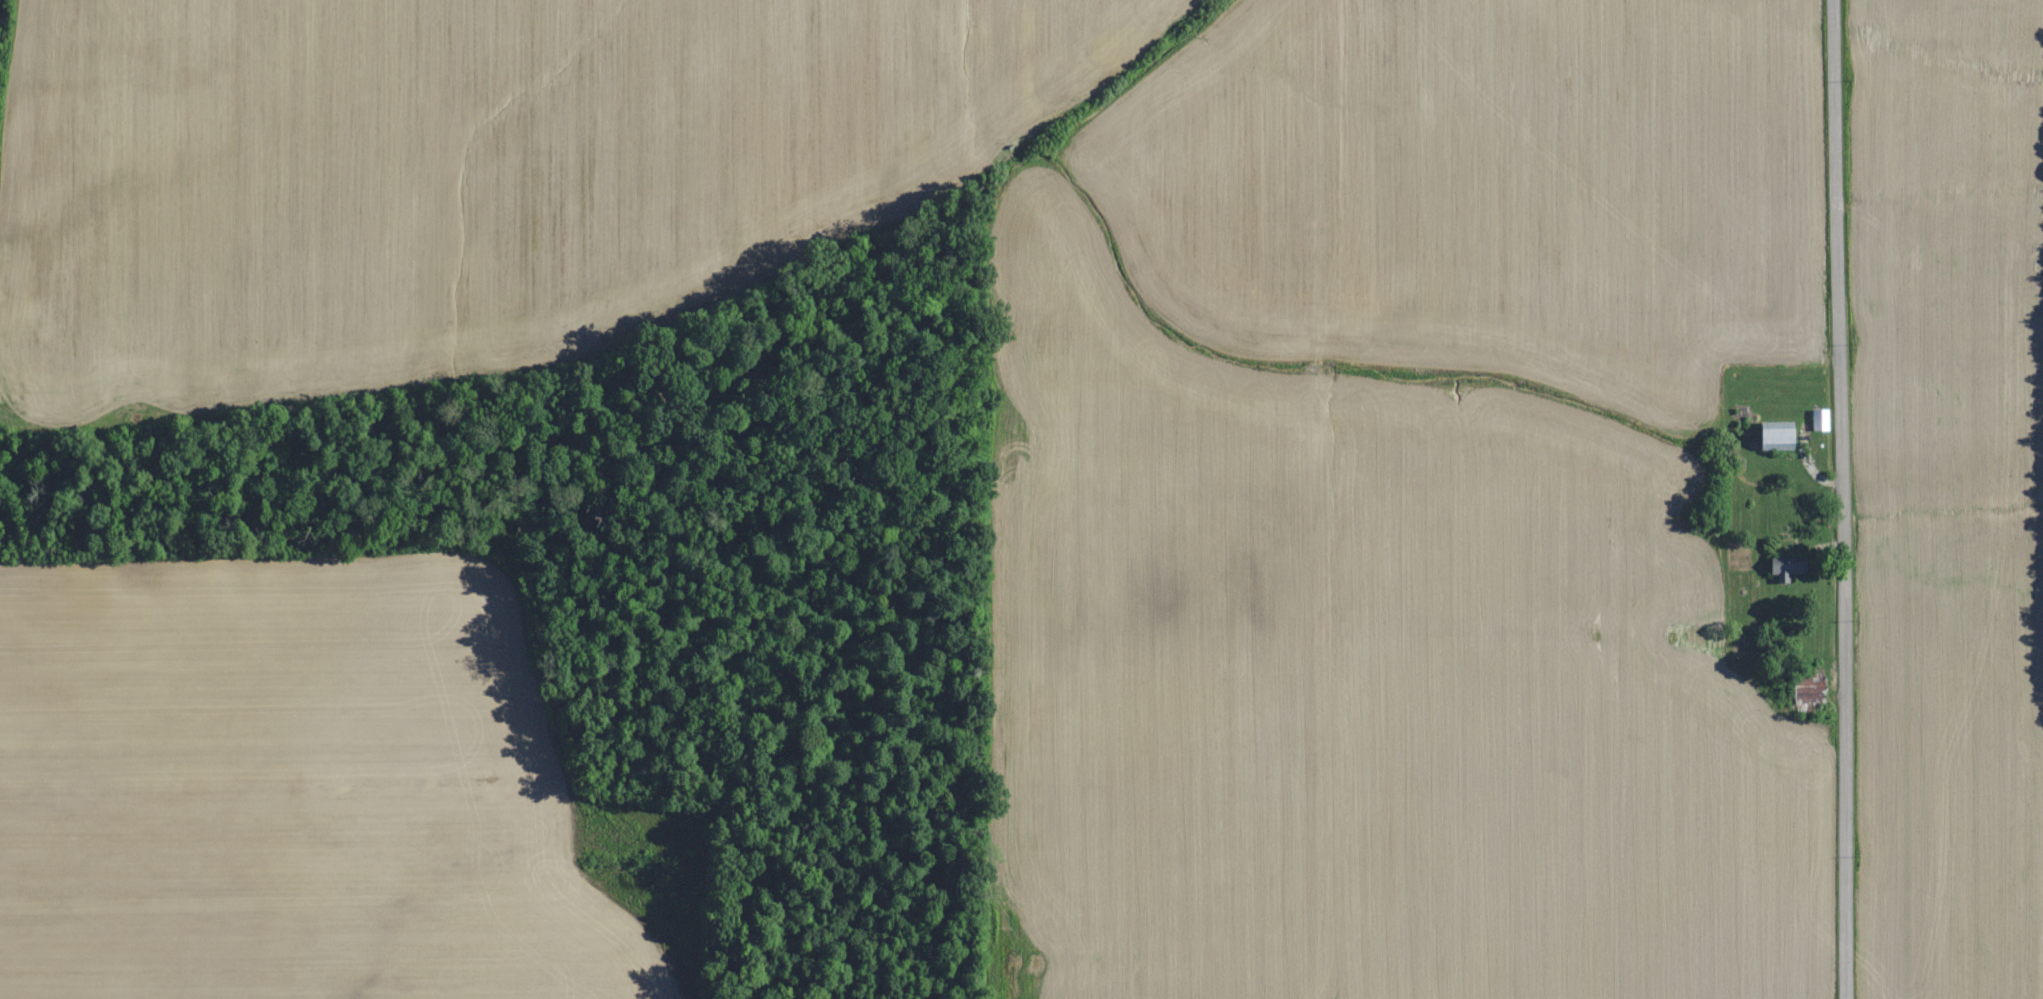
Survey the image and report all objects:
building: (1784, 433)
road: (1841, 499)
building: (1782, 567)

